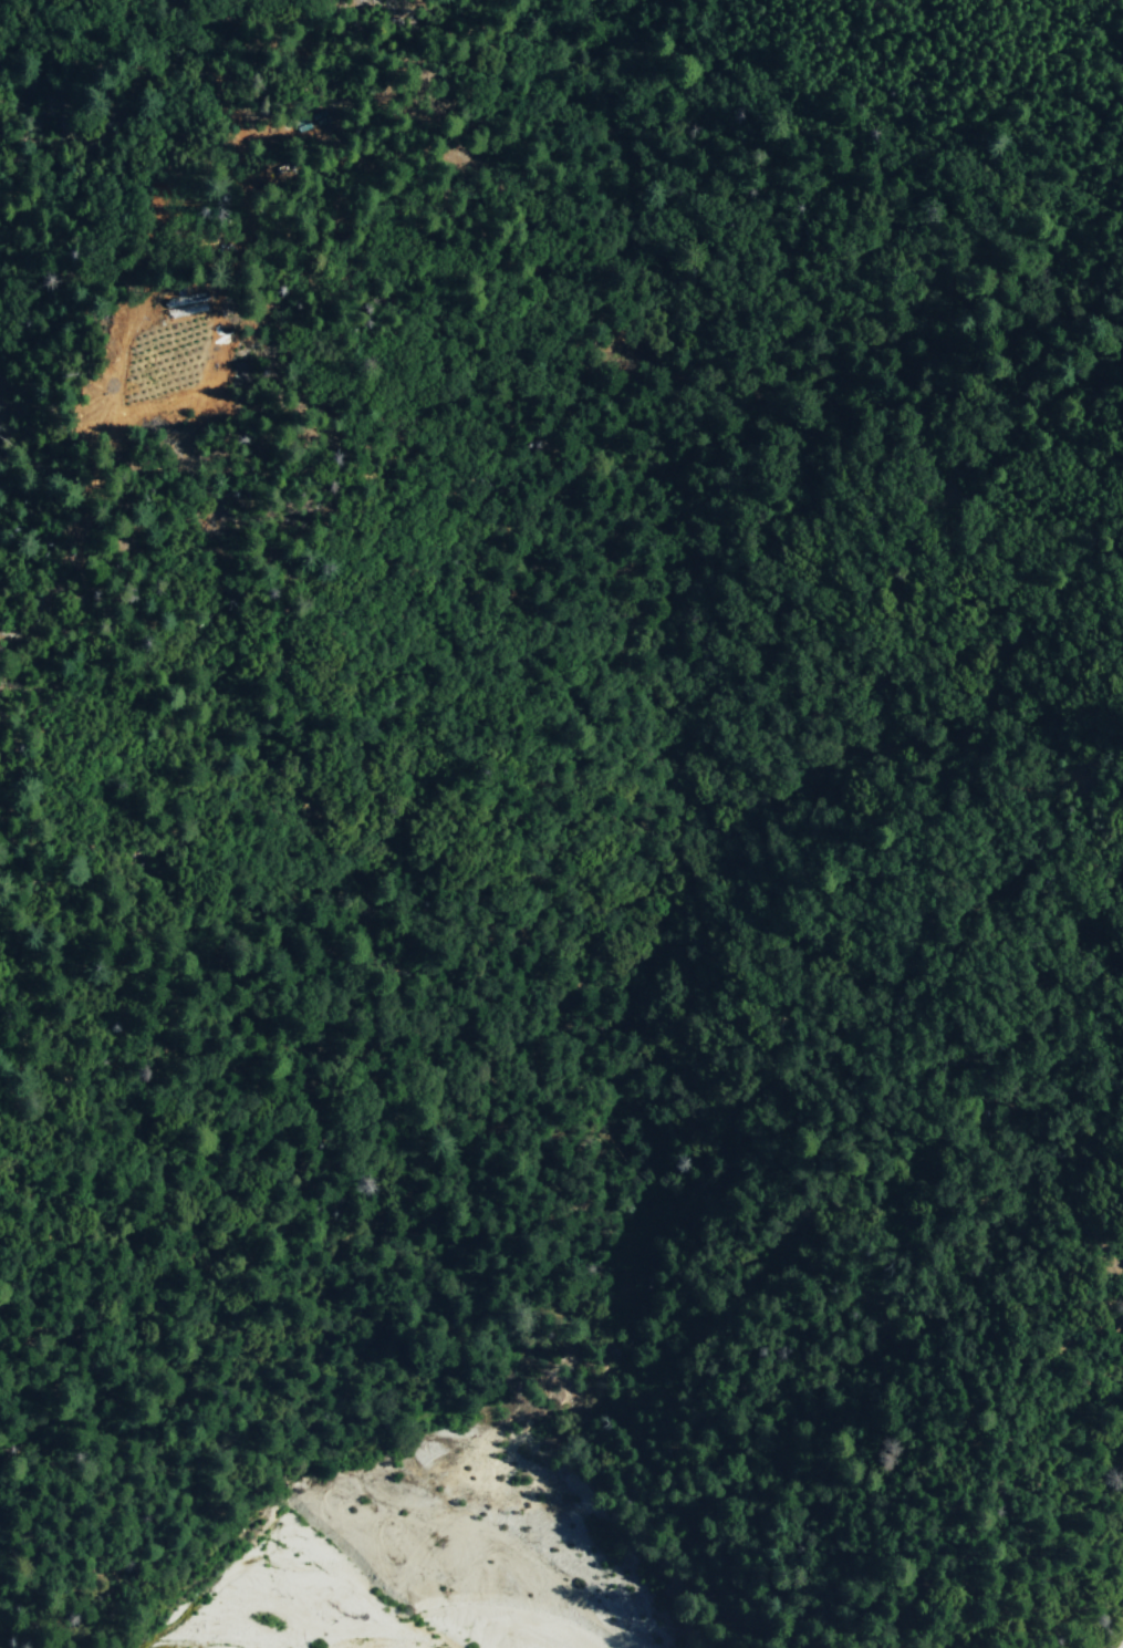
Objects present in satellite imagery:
road: (246, 159)
river: (251, 1611)

